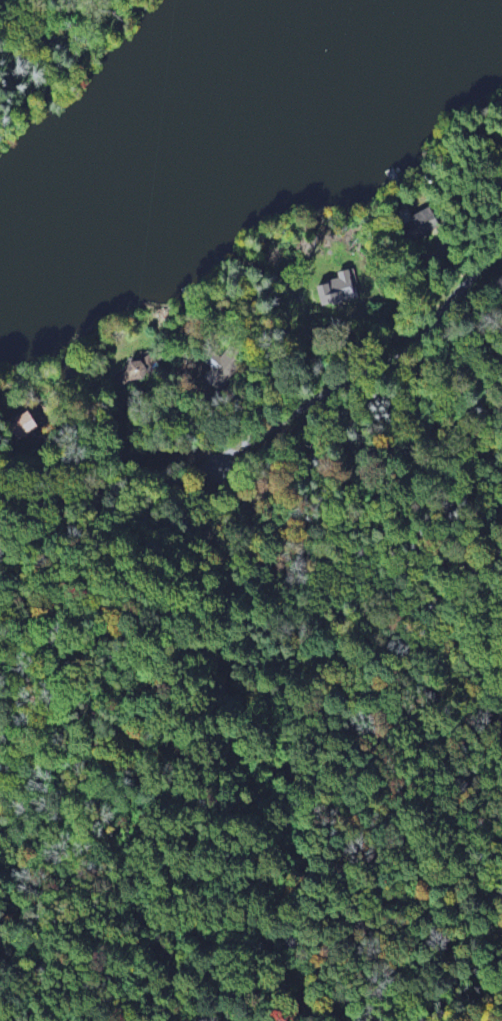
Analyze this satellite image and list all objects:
road: (276, 425)

